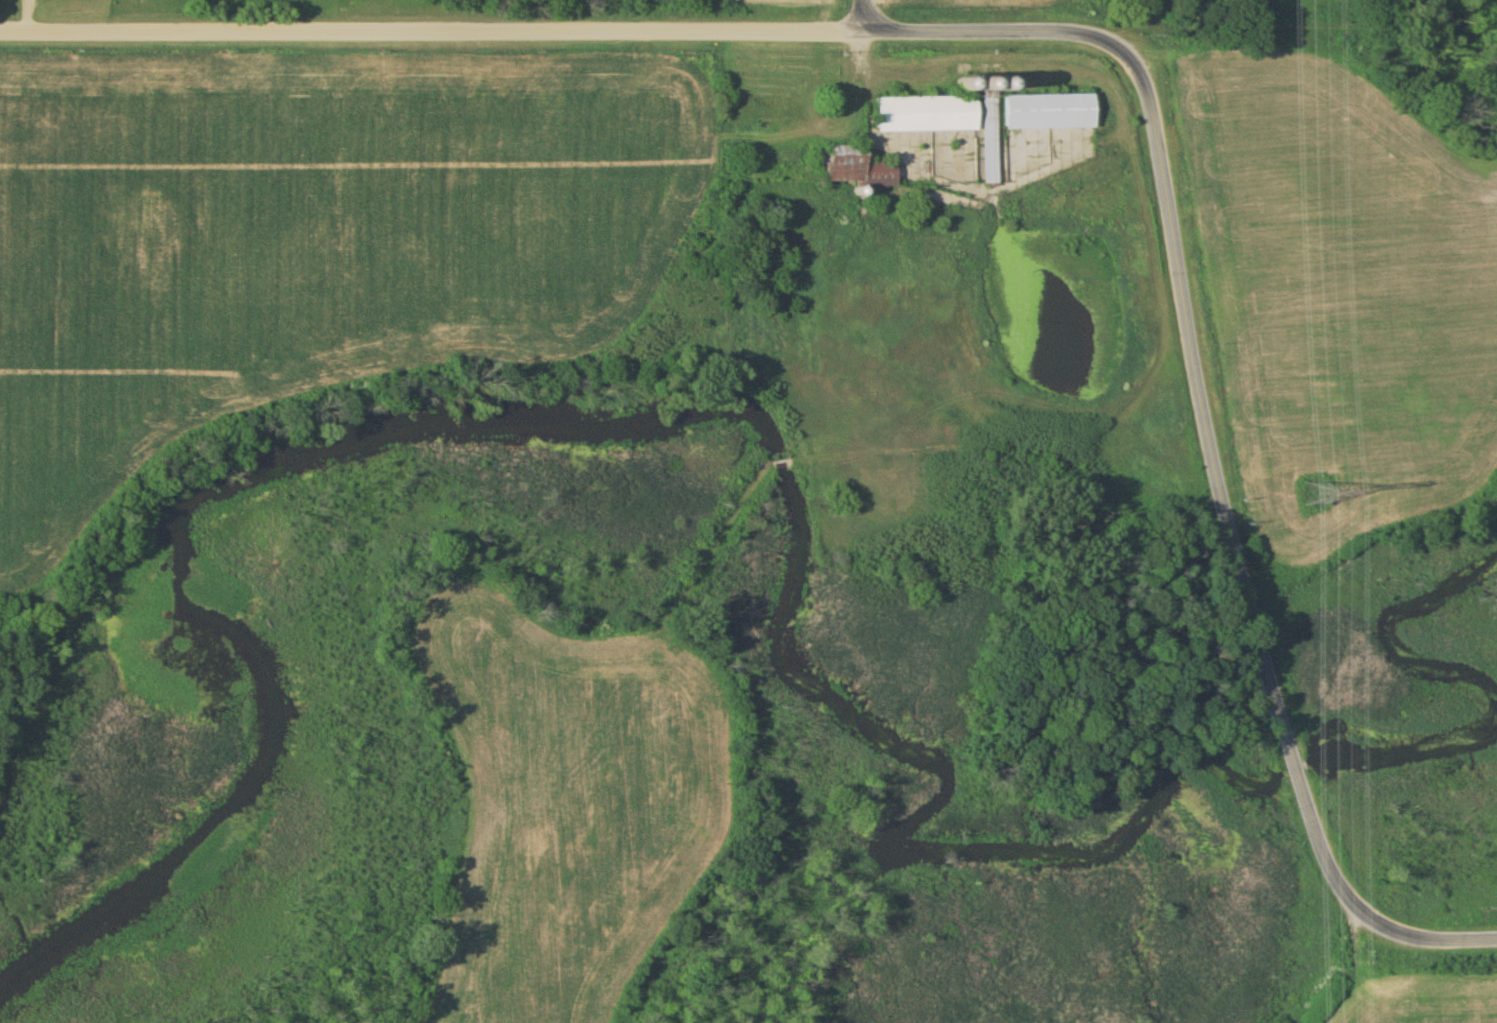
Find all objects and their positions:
road: (859, 14)
road: (1085, 31)
building: (925, 114)
building: (855, 168)
river: (627, 418)
power tower: (1314, 496)
river: (1473, 668)

